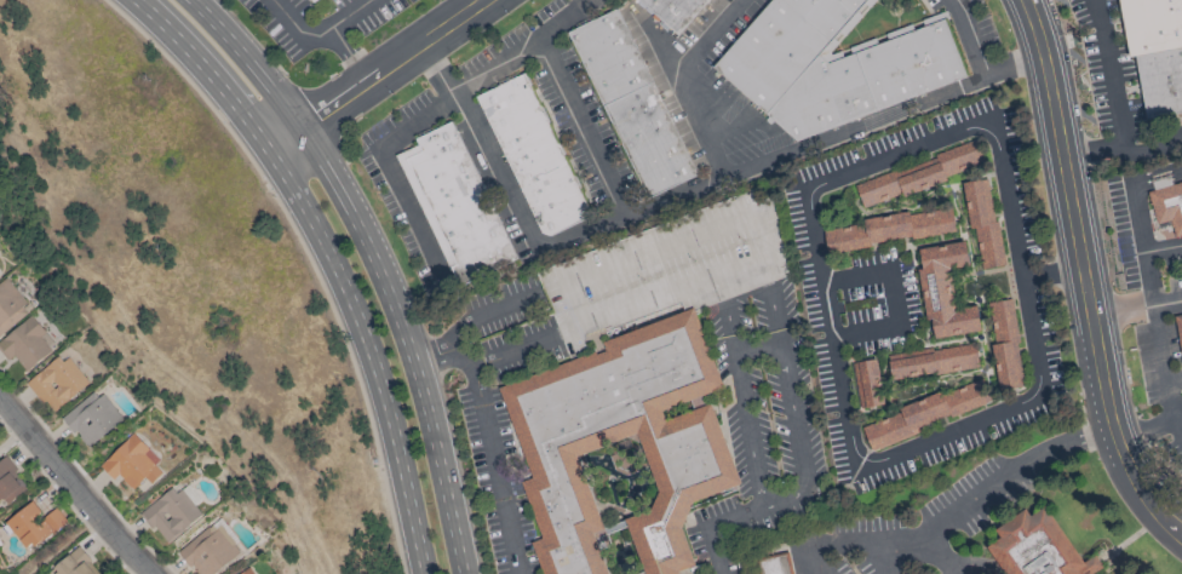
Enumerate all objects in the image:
building: (311, 0)
building: (673, 12)
road: (344, 18)
road: (289, 23)
road: (701, 34)
road: (969, 36)
building: (1155, 53)
road: (247, 62)
road: (392, 64)
building: (831, 64)
road: (435, 70)
road: (206, 71)
road: (482, 76)
road: (688, 101)
building: (631, 105)
road: (1119, 110)
road: (583, 121)
road: (740, 124)
road: (282, 139)
road: (1157, 150)
building: (532, 156)
road: (756, 163)
road: (490, 173)
building: (919, 174)
road: (1161, 174)
building: (1167, 203)
building: (455, 205)
road: (1140, 216)
road: (411, 217)
building: (983, 223)
building: (889, 230)
road: (756, 240)
road: (305, 258)
road: (1146, 259)
road: (1090, 266)
road: (591, 274)
road: (822, 274)
building: (0, 275)
road: (1073, 286)
building: (946, 291)
road: (893, 297)
road: (1167, 302)
building: (10, 306)
road: (607, 318)
building: (1180, 331)
road: (1155, 332)
road: (404, 341)
building: (27, 343)
building: (1006, 344)
road: (368, 352)
road: (432, 356)
building: (934, 362)
building: (56, 383)
building: (868, 384)
building: (926, 413)
building: (91, 418)
road: (13, 434)
building: (620, 450)
building: (132, 463)
road: (494, 469)
building: (8, 481)
road: (75, 484)
road: (786, 498)
road: (962, 511)
building: (171, 512)
road: (736, 516)
building: (34, 524)
building: (1039, 547)
building: (210, 550)
road: (715, 550)
road: (936, 557)
road: (878, 558)
road: (805, 562)
road: (819, 562)
building: (73, 563)
building: (778, 564)
building: (246, 572)

